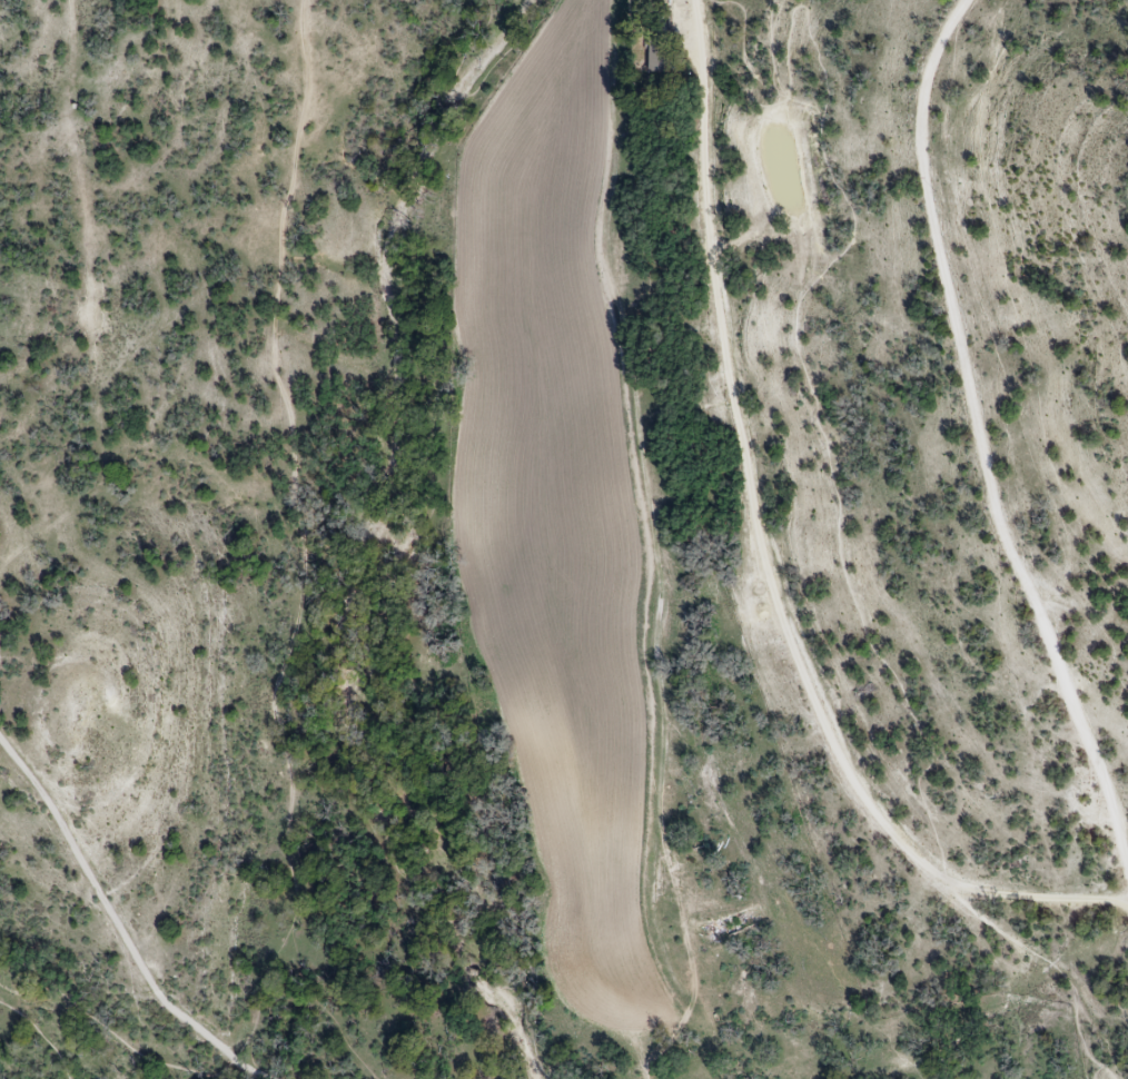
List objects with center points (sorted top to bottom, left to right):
road: (463, 98)
road: (1127, 197)
road: (817, 408)
road: (981, 440)
road: (301, 529)
road: (765, 555)
road: (111, 917)
road: (1051, 963)
road: (40, 1036)
road: (258, 1073)

